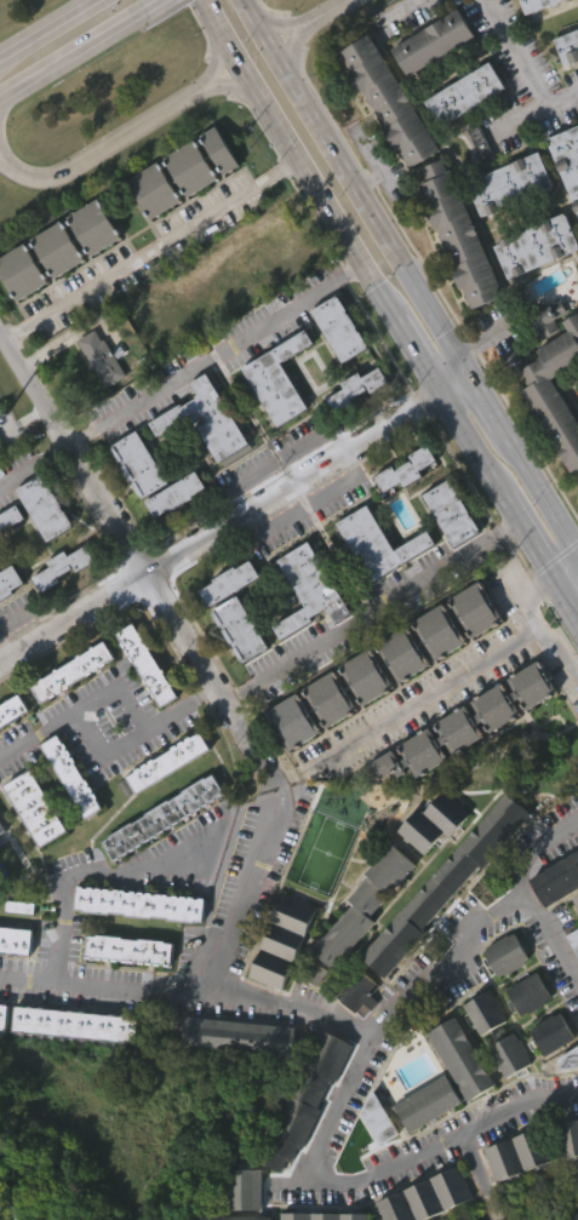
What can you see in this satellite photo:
building: (538, 4)
road: (155, 6)
road: (322, 15)
building: (545, 24)
road: (273, 28)
road: (47, 29)
building: (435, 41)
building: (568, 45)
road: (214, 57)
road: (73, 58)
road: (291, 58)
road: (523, 61)
building: (428, 79)
building: (565, 81)
road: (229, 84)
building: (465, 92)
building: (389, 101)
road: (1, 104)
road: (526, 115)
building: (458, 131)
building: (384, 138)
road: (104, 144)
building: (482, 144)
building: (219, 150)
building: (568, 156)
road: (298, 159)
building: (190, 168)
building: (475, 179)
building: (513, 183)
road: (353, 188)
building: (153, 189)
building: (195, 199)
building: (566, 200)
building: (504, 222)
building: (95, 225)
building: (148, 228)
building: (457, 234)
building: (538, 246)
building: (57, 250)
road: (153, 251)
building: (88, 264)
building: (22, 271)
building: (453, 271)
building: (531, 282)
building: (52, 287)
building: (252, 300)
building: (17, 309)
building: (340, 328)
building: (149, 336)
road: (418, 354)
road: (217, 355)
building: (103, 359)
building: (334, 366)
building: (553, 376)
building: (279, 380)
building: (364, 383)
road: (456, 383)
building: (95, 395)
road: (487, 402)
building: (273, 417)
building: (207, 419)
building: (351, 425)
building: (549, 426)
road: (471, 442)
building: (200, 456)
road: (35, 465)
building: (406, 466)
building: (155, 479)
road: (540, 488)
building: (133, 502)
road: (310, 504)
building: (401, 506)
building: (42, 508)
building: (452, 509)
building: (10, 516)
road: (122, 526)
road: (222, 531)
building: (170, 532)
road: (528, 535)
building: (378, 540)
building: (39, 544)
building: (446, 550)
building: (8, 554)
building: (63, 566)
road: (566, 571)
building: (8, 579)
building: (229, 580)
building: (373, 580)
building: (310, 586)
road: (566, 598)
building: (57, 605)
road: (372, 609)
building: (7, 617)
road: (542, 623)
building: (240, 626)
building: (304, 626)
building: (469, 646)
building: (384, 661)
building: (148, 665)
building: (234, 665)
building: (433, 669)
building: (74, 671)
road: (442, 688)
building: (396, 692)
road: (208, 694)
building: (142, 701)
building: (68, 708)
building: (12, 710)
building: (468, 721)
building: (342, 724)
road: (99, 733)
building: (11, 748)
road: (262, 754)
building: (287, 758)
building: (168, 760)
road: (320, 761)
building: (460, 762)
building: (73, 774)
road: (288, 774)
building: (162, 800)
building: (38, 809)
building: (67, 813)
building: (162, 815)
building: (429, 820)
building: (4, 826)
building: (158, 853)
building: (427, 859)
road: (99, 874)
building: (556, 876)
building: (440, 883)
building: (576, 897)
building: (139, 900)
building: (360, 905)
building: (24, 907)
building: (439, 921)
building: (16, 939)
building: (574, 940)
building: (279, 941)
road: (549, 941)
building: (357, 943)
building: (128, 947)
building: (507, 952)
road: (218, 962)
building: (13, 976)
building: (276, 979)
road: (63, 980)
building: (124, 986)
building: (500, 991)
building: (355, 992)
building: (530, 992)
building: (485, 1009)
building: (4, 1014)
building: (75, 1020)
building: (353, 1029)
building: (523, 1031)
building: (241, 1032)
building: (553, 1032)
road: (368, 1041)
building: (479, 1049)
building: (509, 1050)
building: (1, 1052)
building: (69, 1060)
building: (546, 1070)
building: (234, 1072)
building: (447, 1075)
building: (504, 1092)
building: (454, 1095)
building: (305, 1098)
road: (521, 1116)
building: (372, 1119)
building: (566, 1138)
building: (299, 1140)
building: (422, 1140)
building: (513, 1153)
building: (373, 1156)
road: (479, 1167)
building: (566, 1173)
building: (246, 1189)
building: (509, 1192)
building: (428, 1193)
road: (493, 1207)
building: (239, 1213)
building: (442, 1214)
building: (325, 1215)
building: (572, 1215)
building: (235, 1216)

